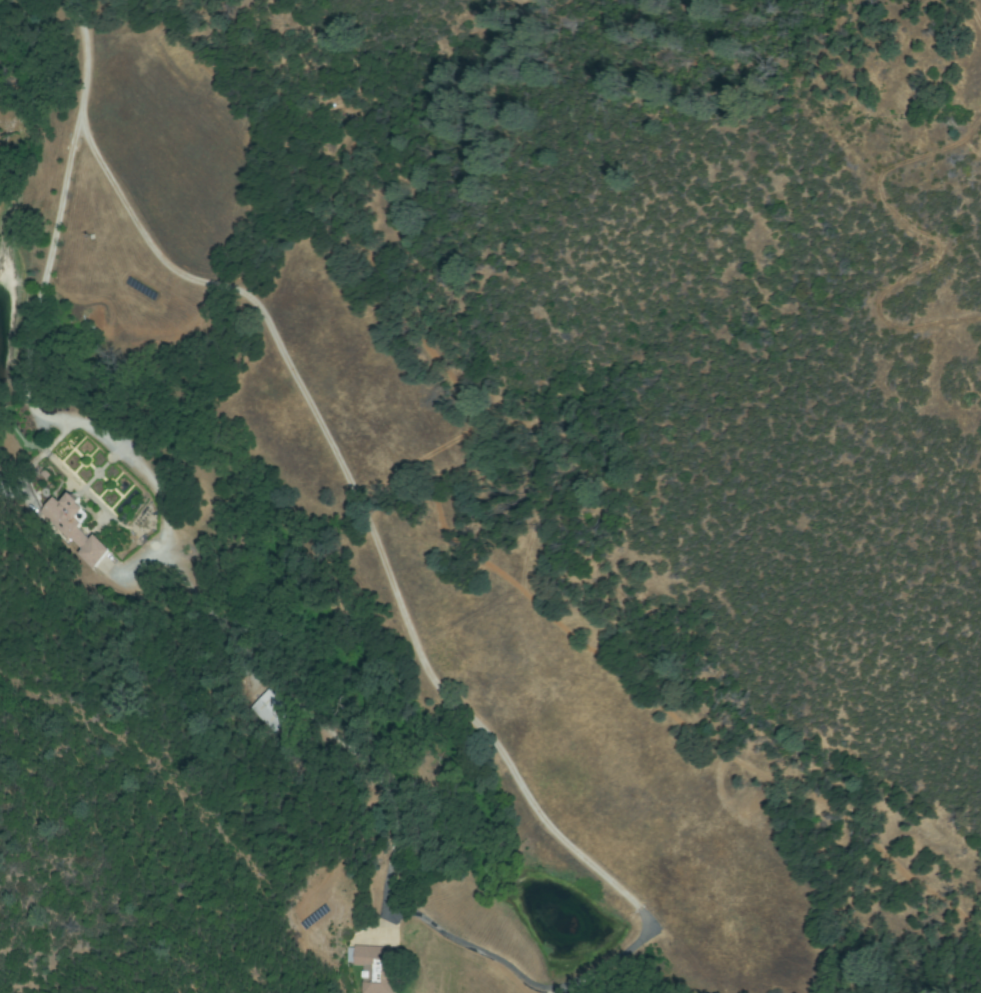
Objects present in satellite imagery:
road: (90, 493)
building: (74, 528)
building: (263, 711)
building: (357, 960)
building: (382, 988)

